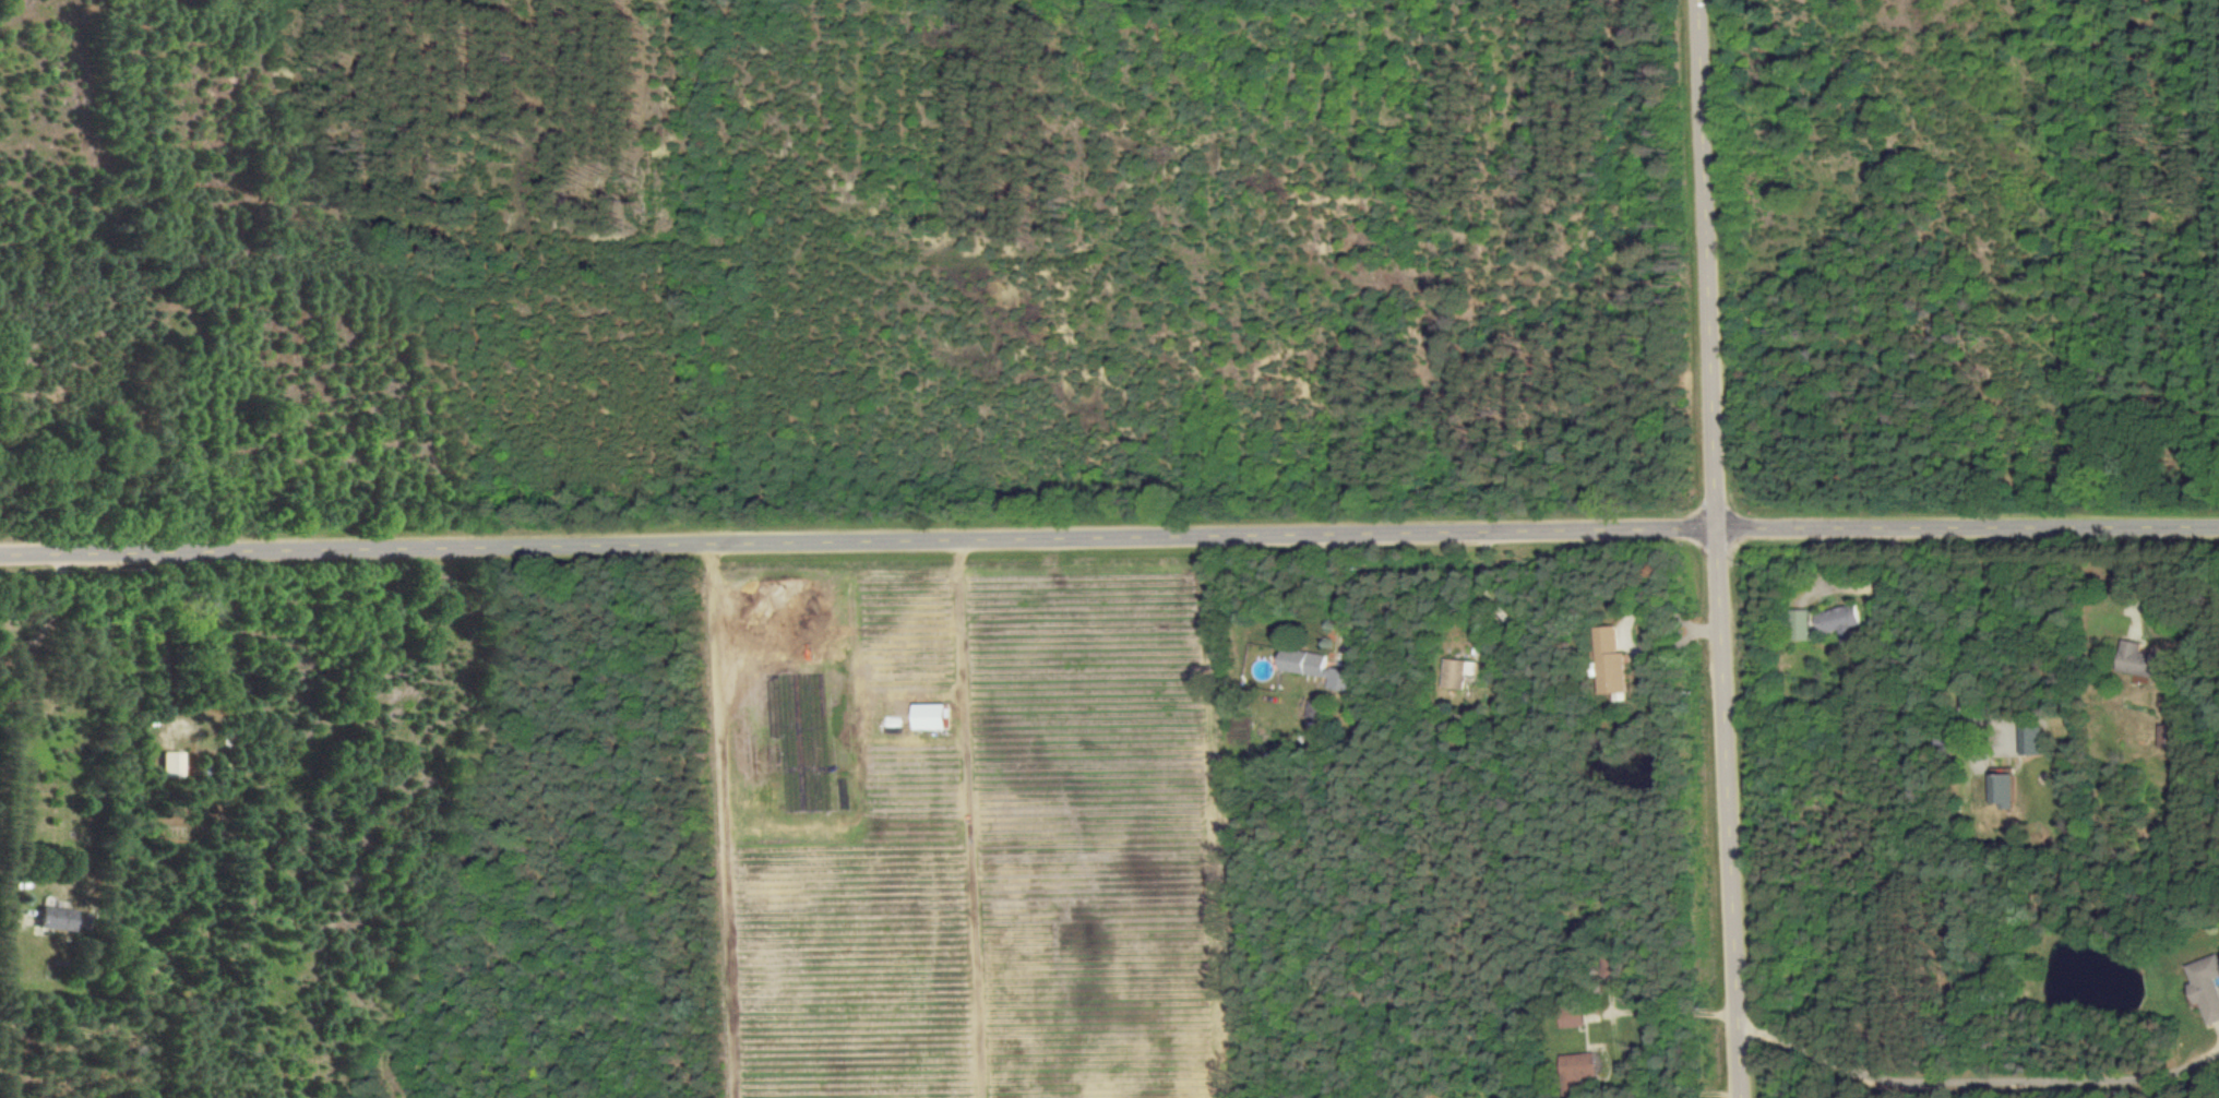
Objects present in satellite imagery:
road: (1109, 535)
road: (1711, 549)
road: (1482, 587)
road: (1339, 590)
road: (1977, 617)
building: (1836, 619)
building: (1798, 624)
road: (163, 640)
building: (2132, 658)
building: (1608, 661)
building: (1311, 667)
building: (1455, 672)
building: (1312, 708)
building: (926, 715)
building: (2162, 735)
building: (2027, 739)
building: (170, 764)
building: (1997, 787)
building: (52, 918)
building: (2205, 986)
road: (1673, 1009)
building: (1570, 1018)
building: (1577, 1066)
road: (1966, 1075)

